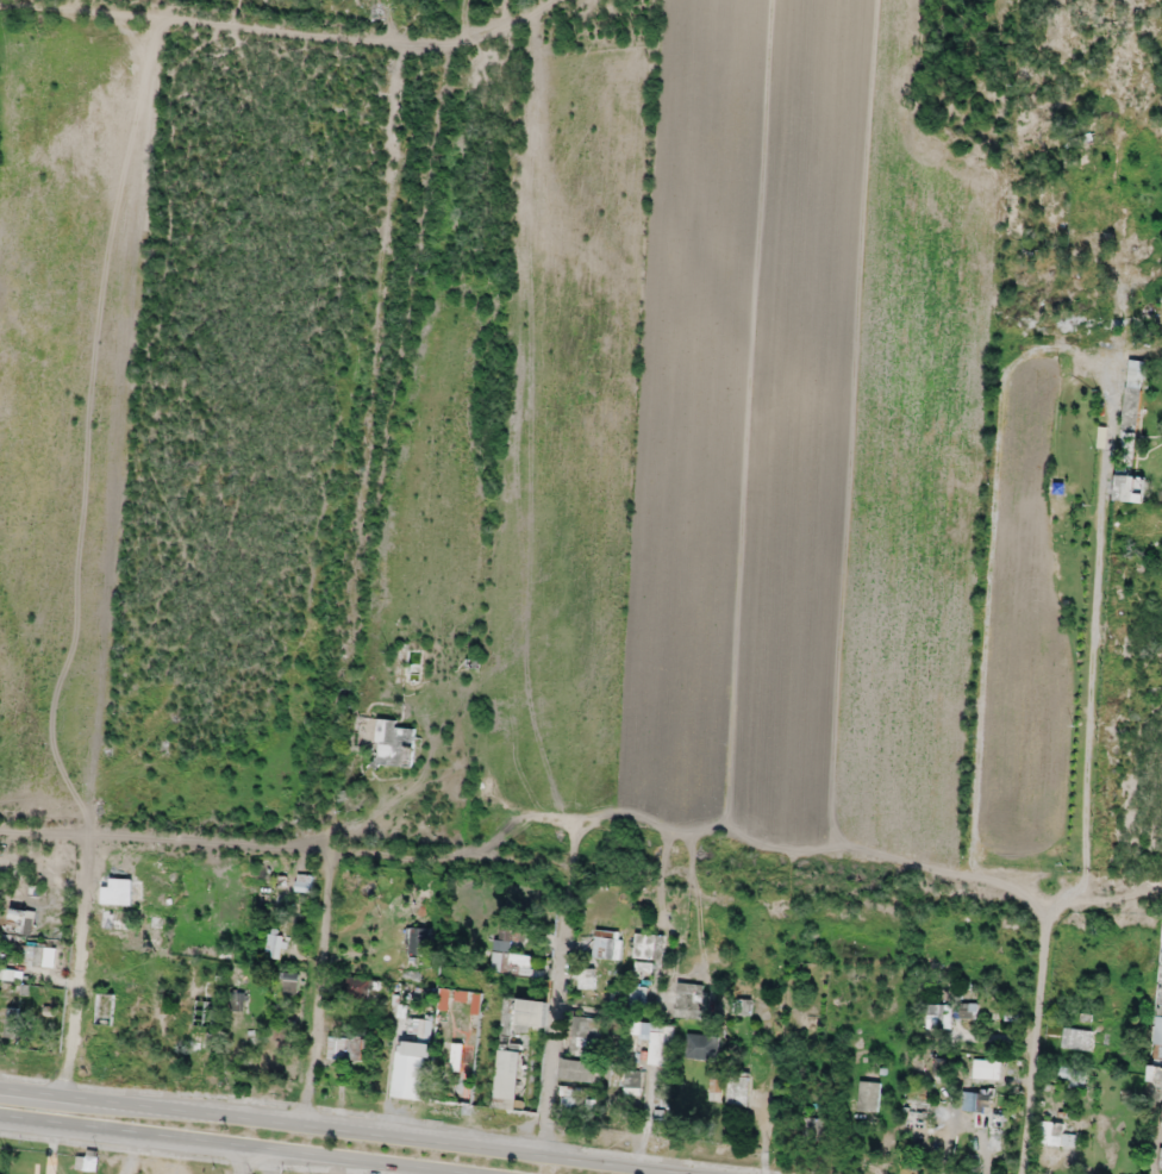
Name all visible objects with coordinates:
road: (280, 32)
building: (1133, 485)
road: (1098, 632)
road: (582, 822)

